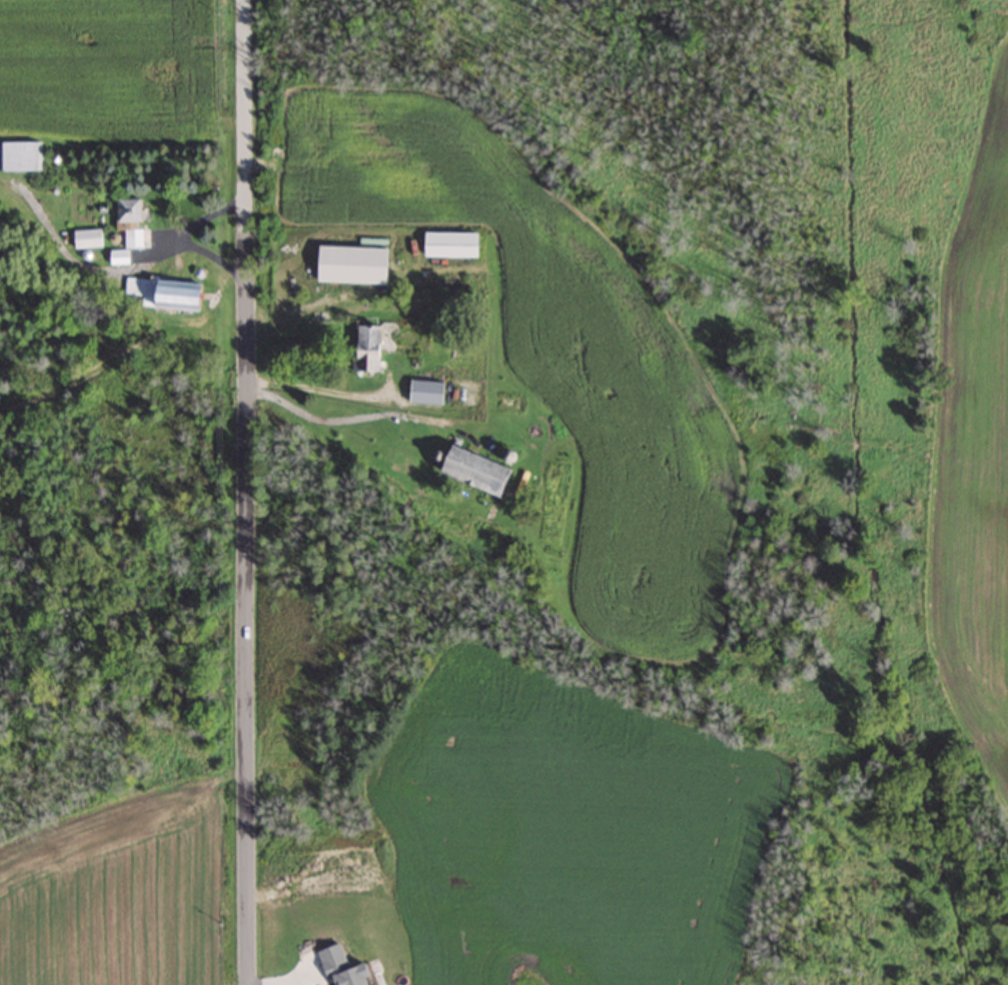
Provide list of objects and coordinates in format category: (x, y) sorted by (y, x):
building: (20, 156)
building: (127, 221)
road: (182, 237)
building: (85, 239)
building: (115, 257)
building: (162, 293)
building: (379, 343)
road: (318, 390)
building: (437, 395)
building: (467, 471)
road: (245, 492)

